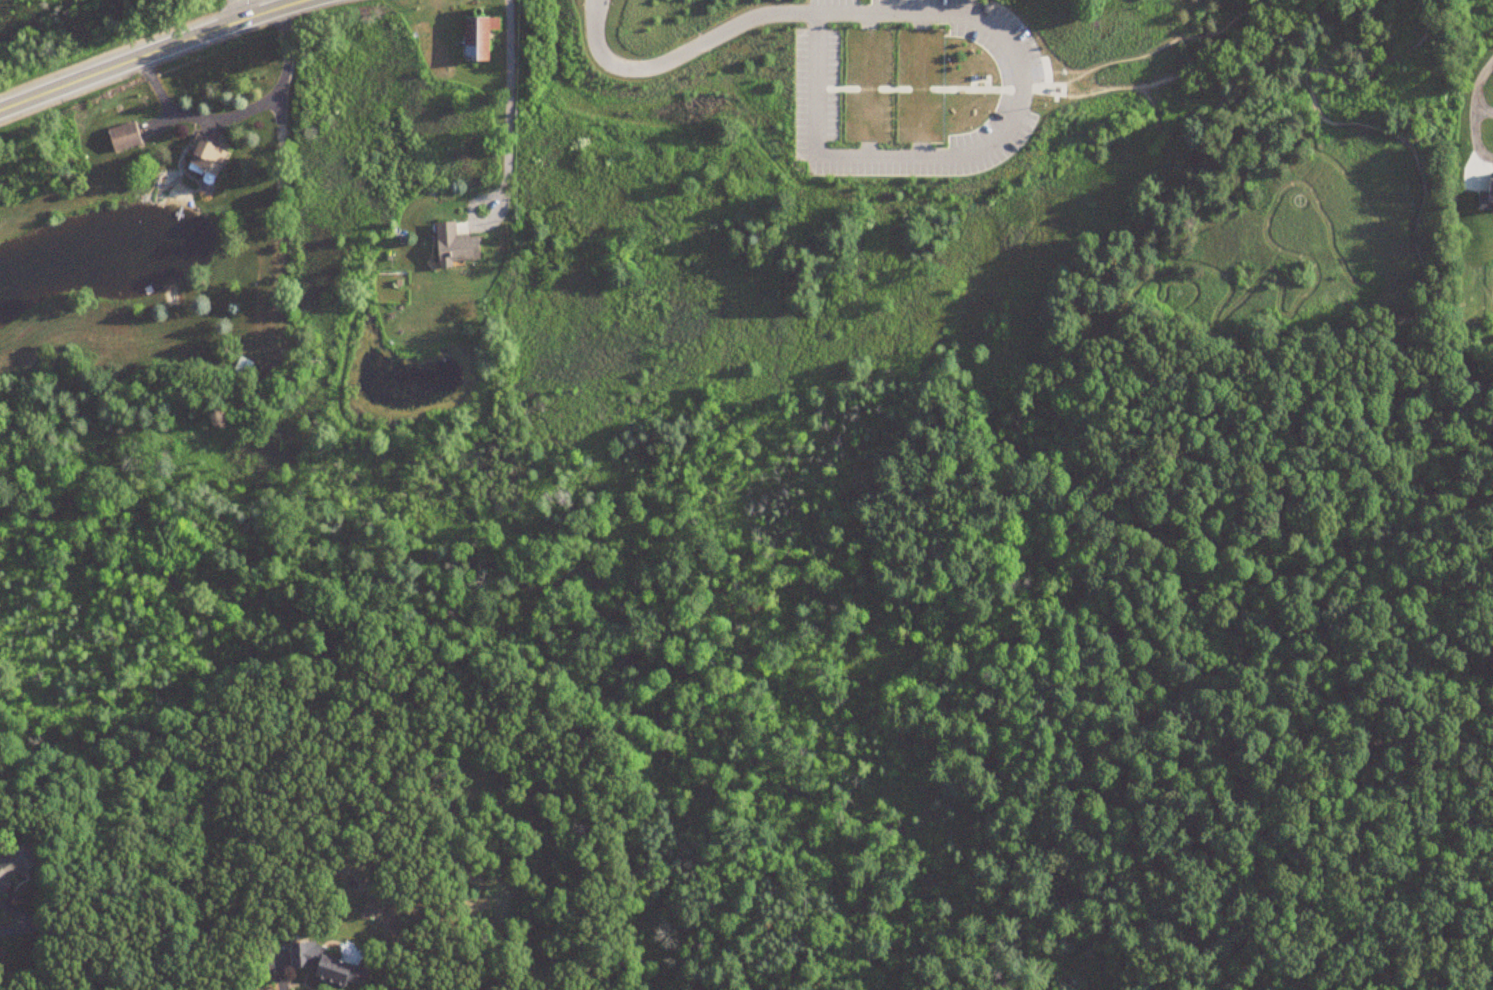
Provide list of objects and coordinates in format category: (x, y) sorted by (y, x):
road: (240, 10)
road: (799, 15)
building: (478, 38)
road: (153, 53)
road: (1145, 55)
road: (1125, 82)
parking lot: (912, 88)
road: (1472, 98)
road: (509, 109)
road: (236, 111)
building: (123, 138)
road: (871, 156)
building: (206, 157)
building: (454, 247)
building: (242, 367)
park: (1032, 491)
road: (1059, 815)
road: (1451, 815)
road: (996, 851)
building: (11, 865)
road: (16, 912)
road: (1300, 912)
road: (14, 930)
road: (72, 953)
road: (1299, 958)
building: (324, 965)

